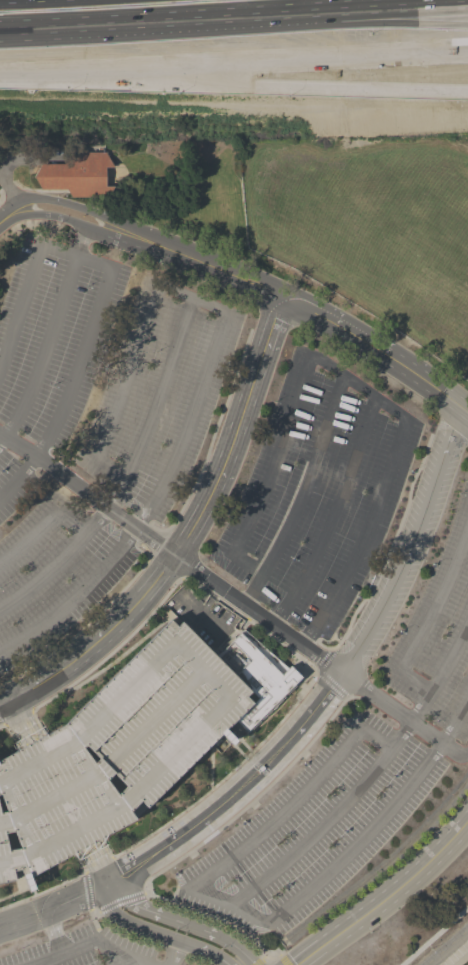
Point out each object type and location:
road: (389, 18)
railway: (234, 23)
road: (389, 28)
road: (155, 33)
road: (234, 78)
road: (18, 160)
building: (77, 175)
road: (7, 187)
road: (8, 188)
road: (39, 190)
road: (0, 196)
road: (93, 213)
road: (92, 227)
road: (27, 285)
road: (275, 295)
road: (326, 308)
road: (140, 333)
road: (49, 334)
road: (85, 348)
parking lot: (110, 368)
road: (415, 373)
road: (360, 387)
road: (1, 440)
road: (210, 447)
road: (18, 479)
road: (300, 492)
parking lot: (316, 494)
road: (331, 514)
road: (41, 528)
road: (185, 536)
road: (415, 543)
road: (170, 553)
road: (56, 560)
parking lot: (49, 562)
building: (110, 587)
road: (72, 596)
road: (159, 615)
road: (428, 617)
road: (93, 618)
parking lot: (202, 618)
road: (346, 632)
road: (336, 639)
road: (118, 646)
road: (122, 655)
road: (323, 659)
road: (442, 674)
building: (256, 675)
road: (329, 683)
road: (220, 696)
road: (400, 712)
road: (21, 722)
road: (6, 727)
road: (267, 734)
road: (241, 741)
building: (116, 750)
parking lot: (116, 750)
road: (239, 751)
road: (463, 754)
road: (108, 762)
road: (210, 768)
parking lot: (352, 771)
road: (91, 778)
road: (291, 803)
road: (209, 812)
road: (328, 817)
road: (379, 818)
road: (16, 821)
road: (97, 863)
road: (43, 890)
road: (85, 890)
road: (15, 891)
road: (33, 892)
road: (387, 897)
road: (165, 899)
road: (115, 902)
road: (229, 904)
road: (22, 919)
road: (91, 919)
road: (179, 923)
road: (53, 932)
road: (153, 933)
road: (434, 935)
road: (104, 945)
road: (445, 946)
parking lot: (83, 949)
road: (172, 953)
road: (260, 953)
road: (45, 959)
road: (462, 959)
road: (282, 960)
road: (258, 961)
road: (129, 962)

